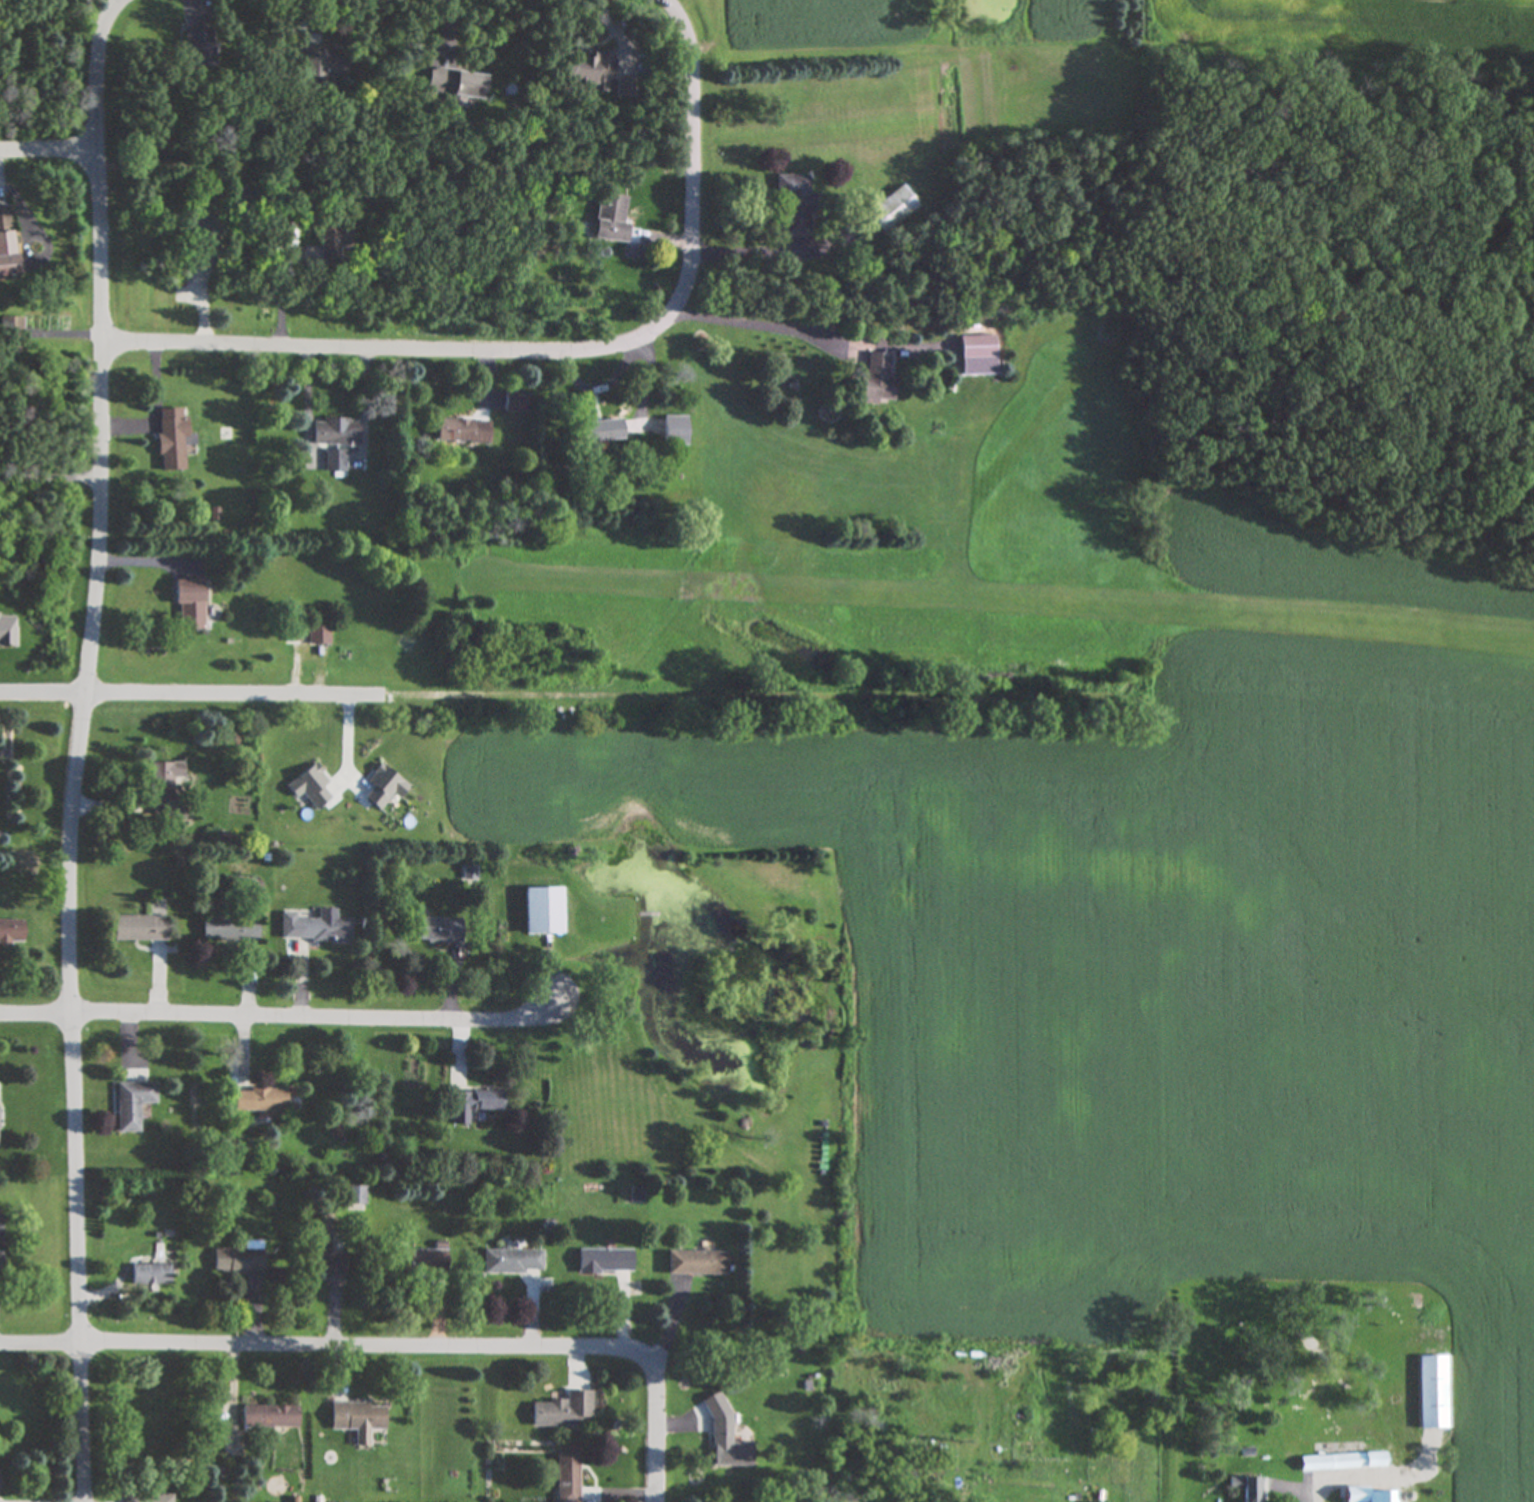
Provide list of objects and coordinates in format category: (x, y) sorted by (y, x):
building: (198, 45)
building: (323, 62)
building: (589, 68)
road: (94, 69)
building: (458, 82)
road: (45, 144)
building: (796, 203)
building: (894, 209)
building: (611, 217)
building: (203, 226)
building: (334, 242)
building: (6, 244)
road: (749, 324)
building: (13, 327)
road: (551, 347)
building: (980, 356)
building: (877, 380)
building: (336, 431)
building: (463, 431)
building: (600, 431)
building: (675, 431)
building: (171, 439)
building: (336, 461)
road: (50, 491)
building: (189, 605)
building: (319, 634)
road: (576, 706)
road: (986, 780)
building: (166, 791)
road: (72, 822)
building: (543, 910)
building: (141, 928)
building: (230, 928)
building: (315, 929)
building: (11, 930)
building: (439, 931)
road: (34, 1016)
road: (313, 1017)
building: (260, 1099)
building: (132, 1104)
building: (473, 1104)
building: (356, 1195)
building: (1, 1242)
building: (323, 1256)
building: (239, 1259)
building: (418, 1261)
building: (512, 1262)
building: (605, 1262)
building: (696, 1264)
building: (150, 1275)
road: (38, 1352)
road: (366, 1355)
building: (1434, 1392)
building: (562, 1411)
building: (270, 1417)
building: (358, 1420)
road: (655, 1429)
building: (726, 1439)
building: (1349, 1462)
building: (567, 1474)
building: (1248, 1488)
building: (1366, 1495)
building: (147, 1498)
road: (1321, 1500)
building: (19, 1501)

